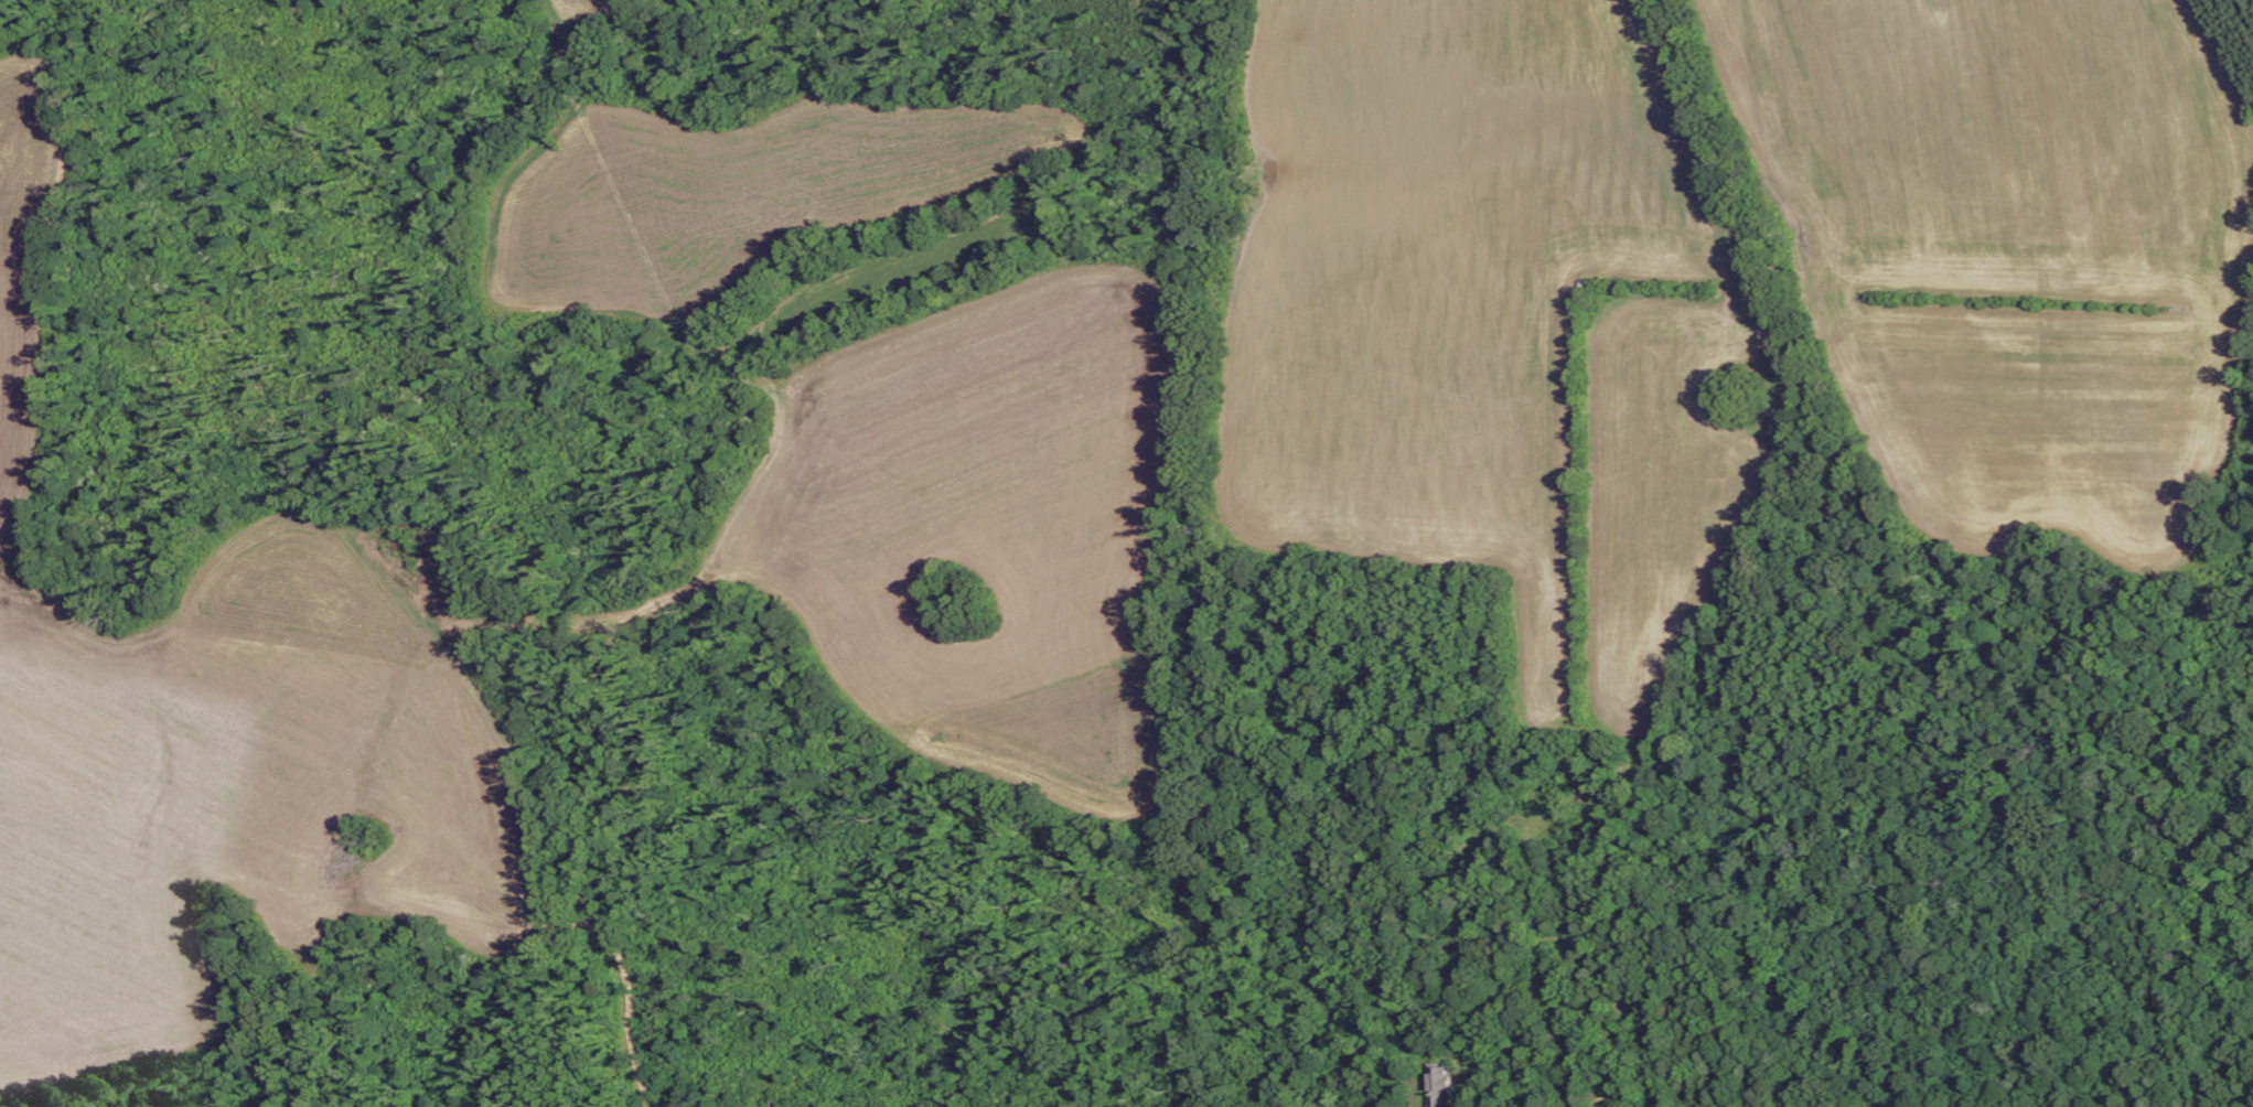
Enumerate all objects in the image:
building: (1437, 1082)

